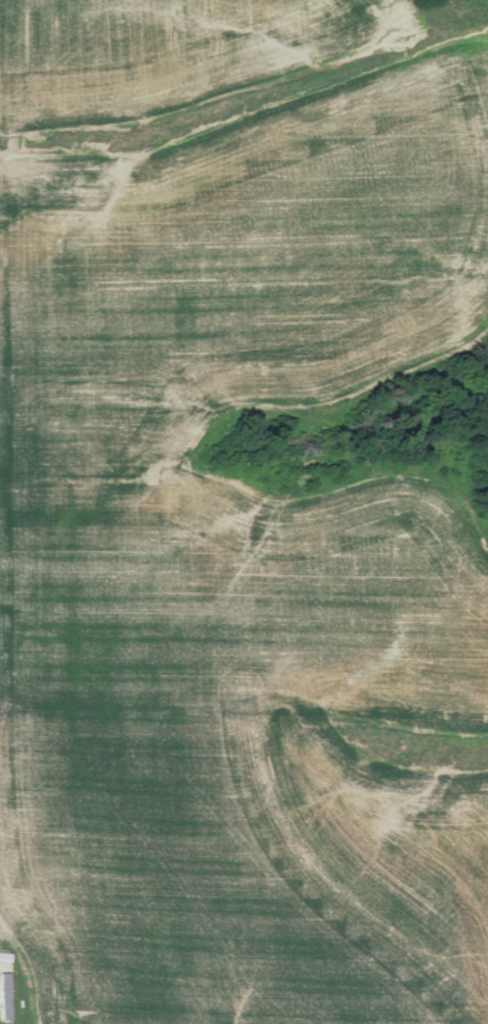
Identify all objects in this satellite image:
building: (6, 956)
building: (6, 994)

